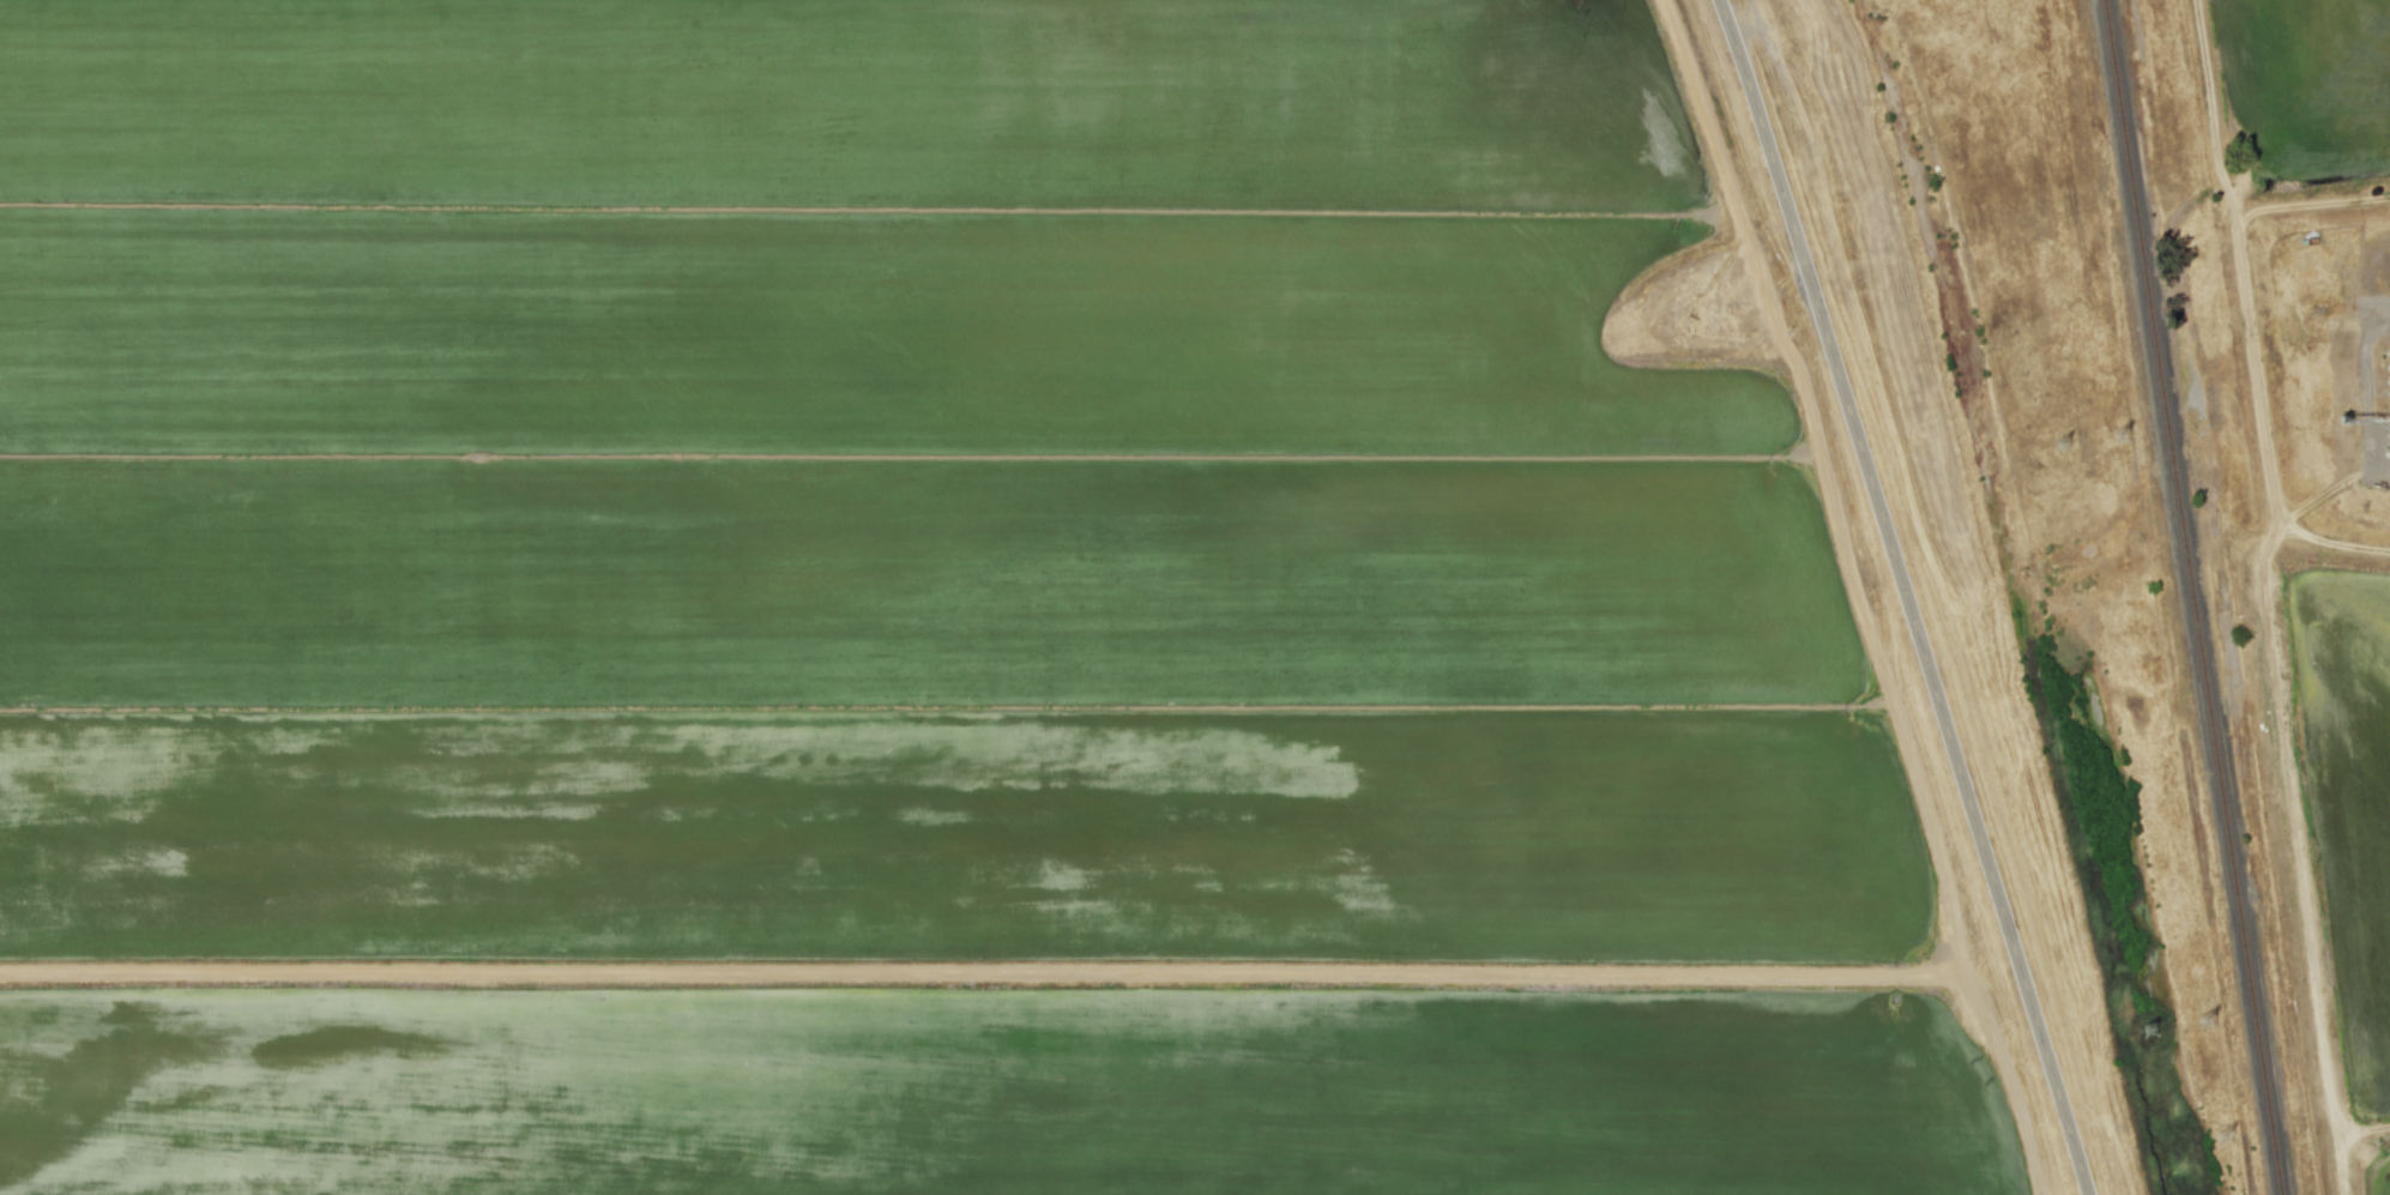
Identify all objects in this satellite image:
crop: (2265, 103)
power tower: (2129, 436)
power tower: (2068, 445)
road: (1912, 593)
railway: (2198, 597)
crop: (2319, 837)
power tower: (2214, 1022)
power tower: (2155, 1032)
power tower: (2231, 1140)

